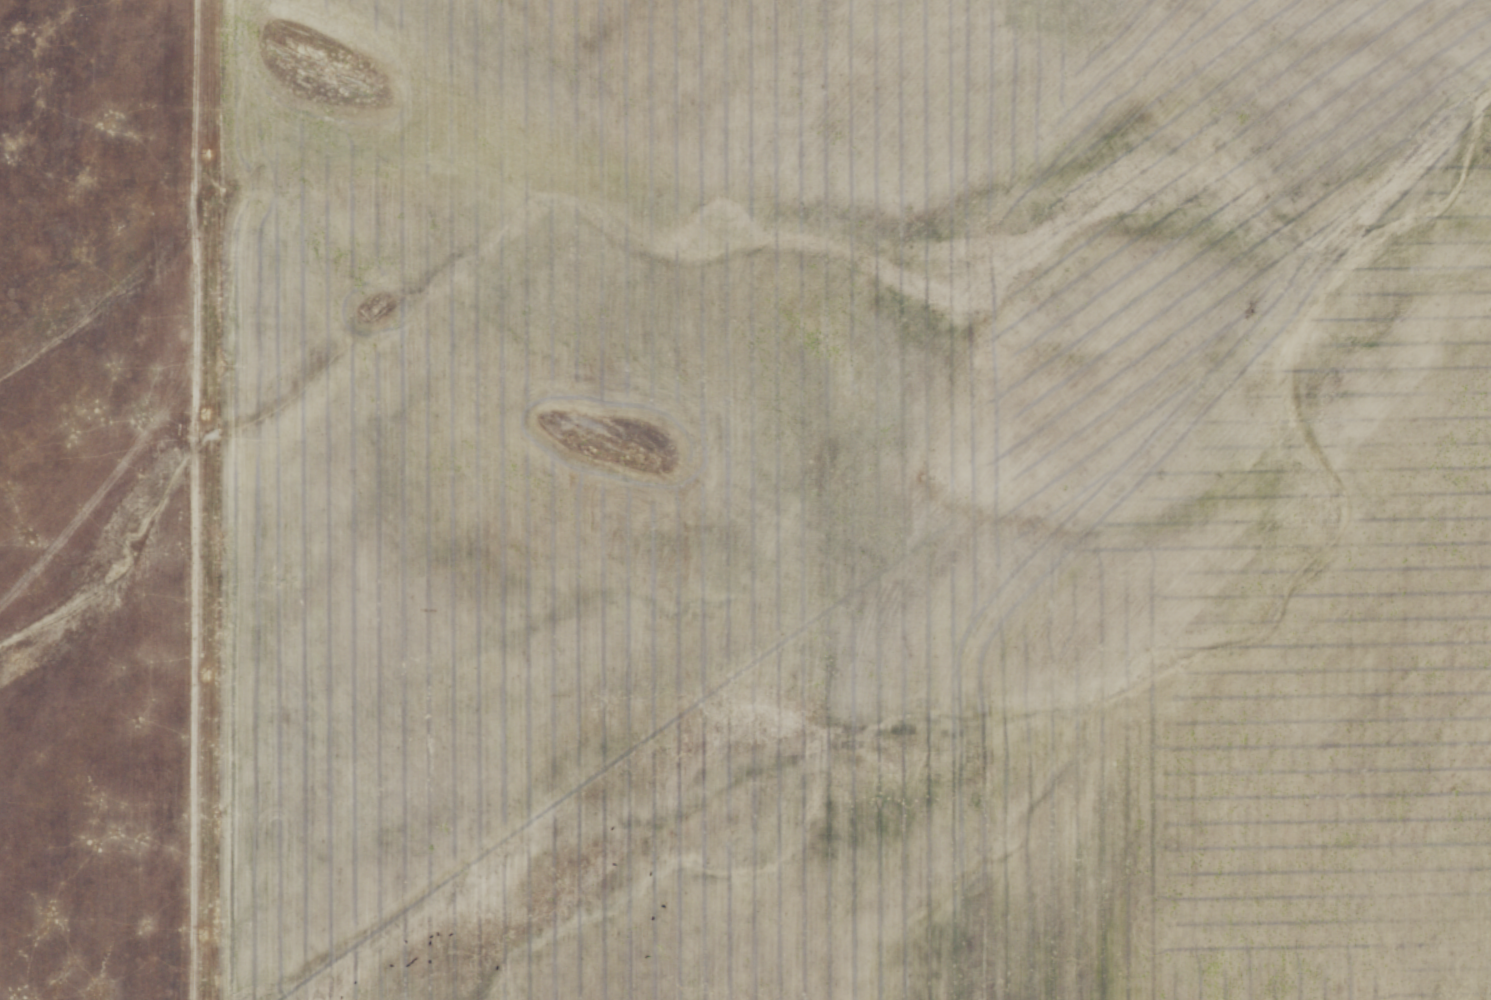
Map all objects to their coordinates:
road: (101, 491)
road: (195, 500)

